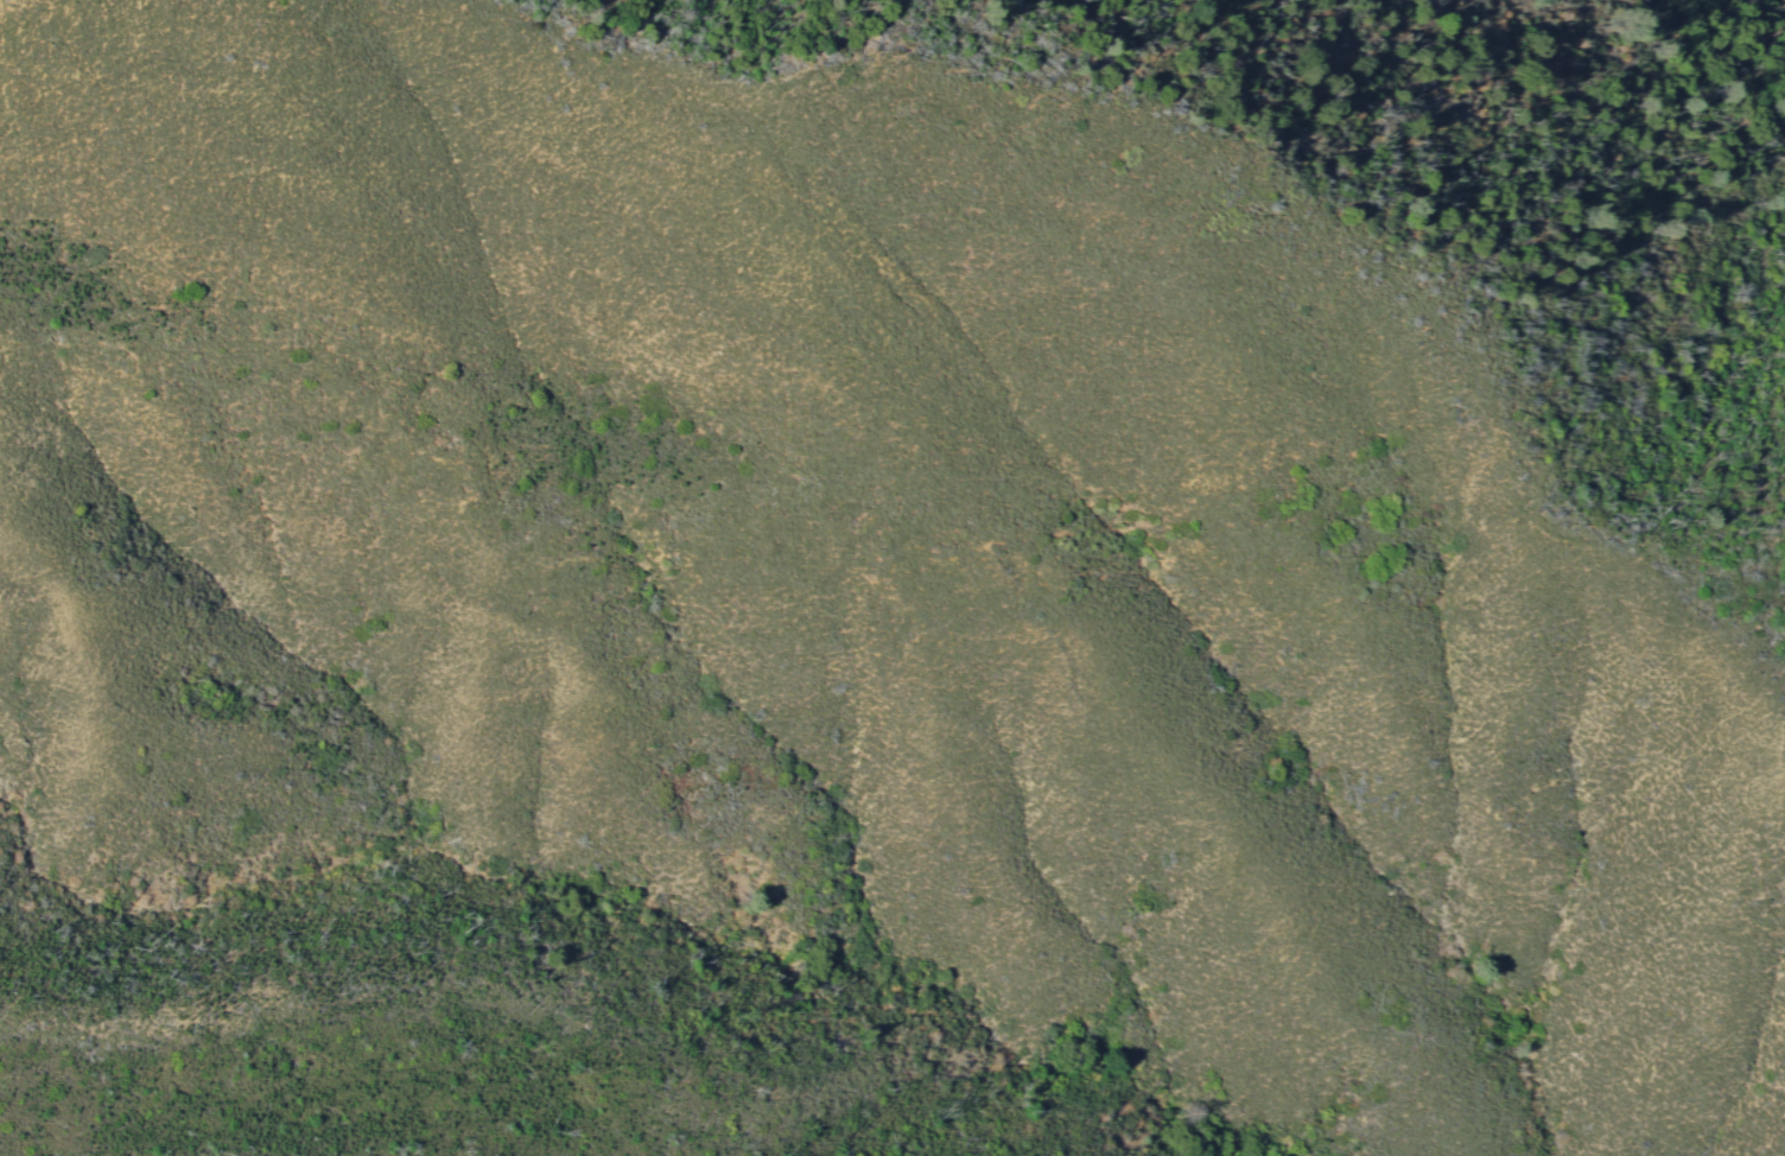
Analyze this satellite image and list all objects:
road: (1161, 128)

